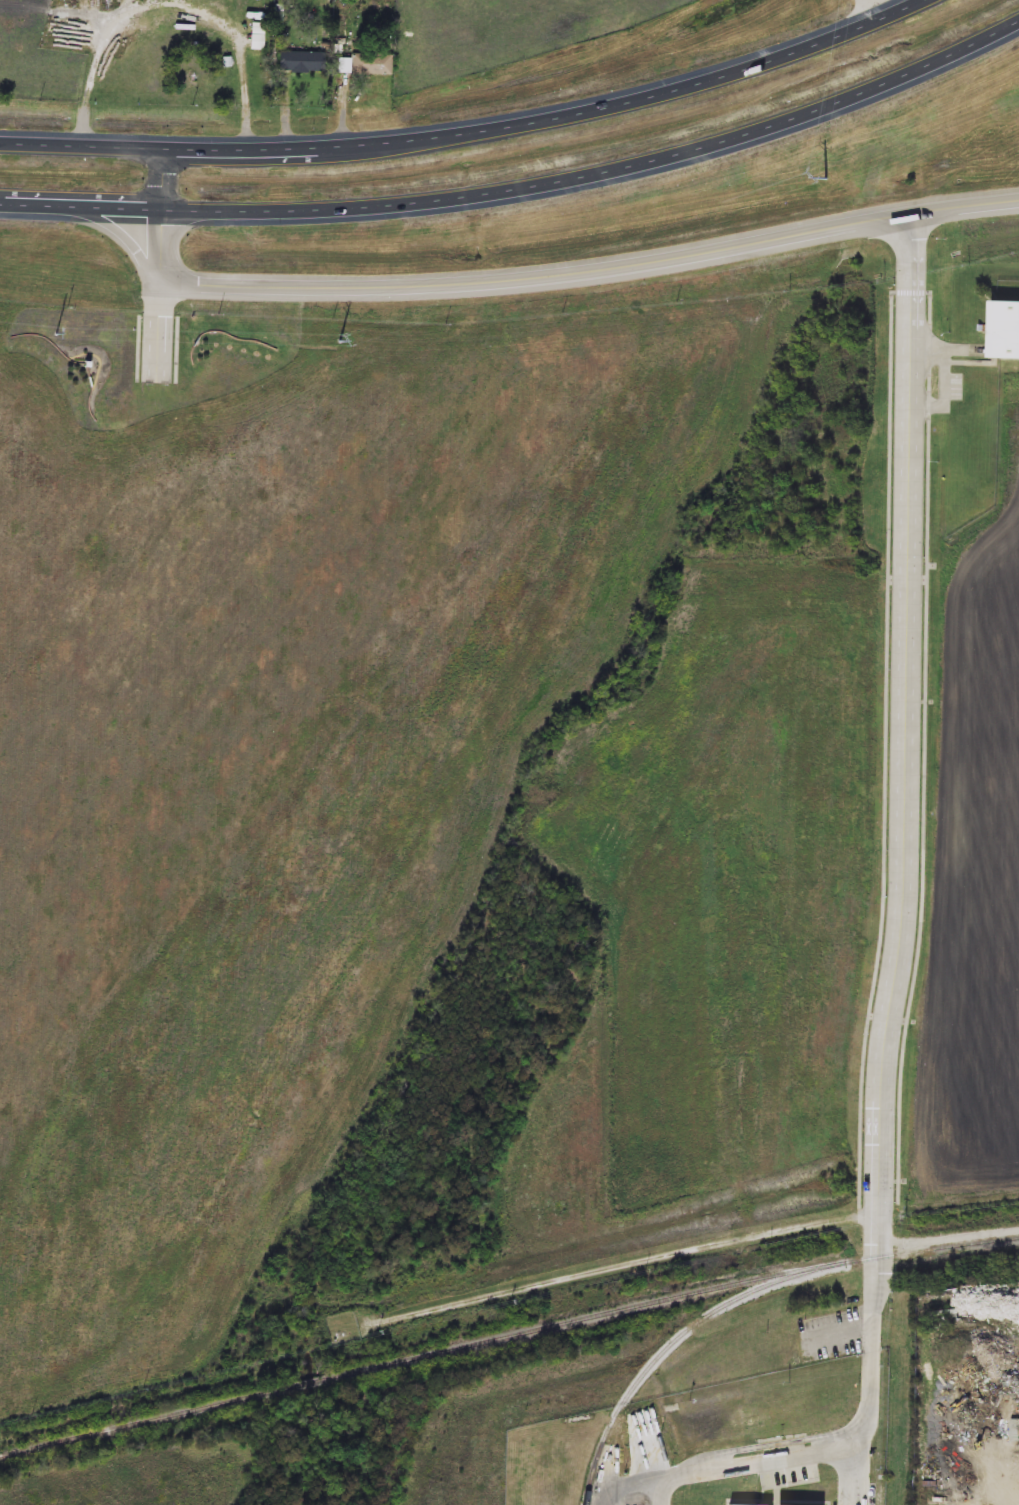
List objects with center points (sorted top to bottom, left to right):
road: (877, 9)
building: (257, 36)
building: (301, 63)
building: (372, 64)
road: (605, 113)
road: (135, 132)
road: (658, 170)
power tower: (815, 185)
road: (135, 210)
road: (515, 280)
road: (913, 293)
road: (157, 332)
power tower: (340, 342)
building: (1004, 345)
road: (140, 348)
road: (179, 350)
road: (941, 352)
road: (946, 396)
power tower: (90, 553)
road: (925, 747)
road: (905, 751)
road: (888, 753)
road: (946, 1240)
road: (619, 1267)
railway: (670, 1298)
railway: (310, 1384)
railway: (146, 1420)
building: (1014, 1429)
road: (829, 1459)

